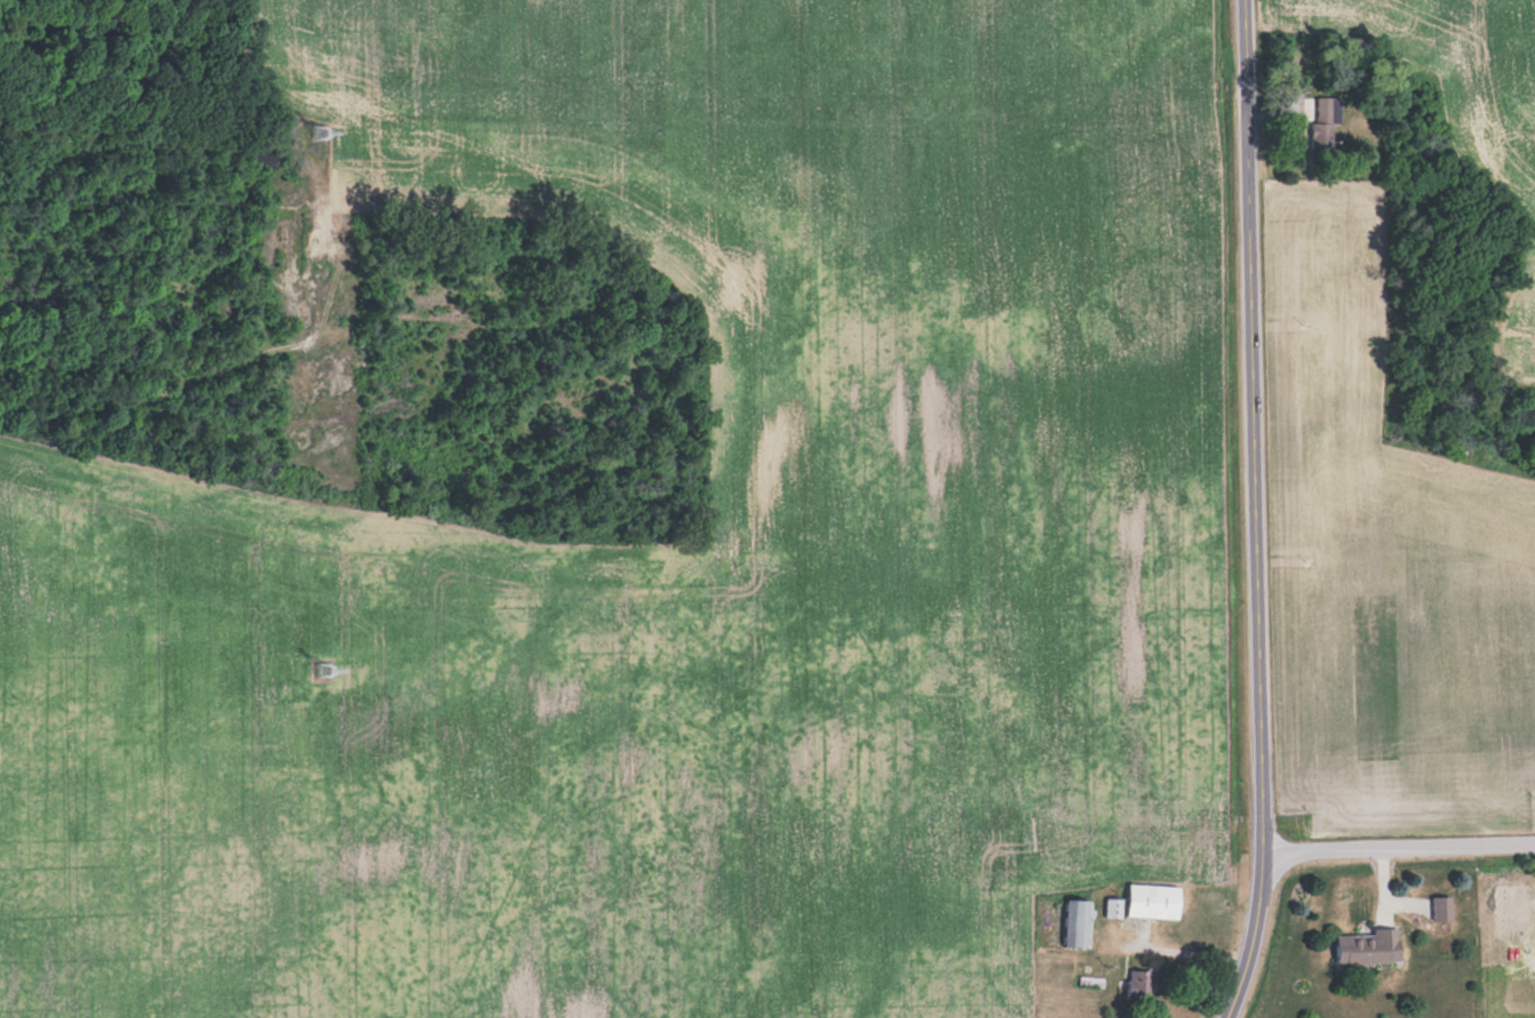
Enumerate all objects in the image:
building: (1324, 120)
power tower: (323, 131)
road: (1250, 422)
power tower: (331, 671)
road: (1397, 844)
building: (1154, 901)
building: (1114, 908)
building: (1442, 908)
building: (1078, 924)
road: (1252, 934)
building: (1368, 947)
road: (1184, 951)
building: (1140, 983)

